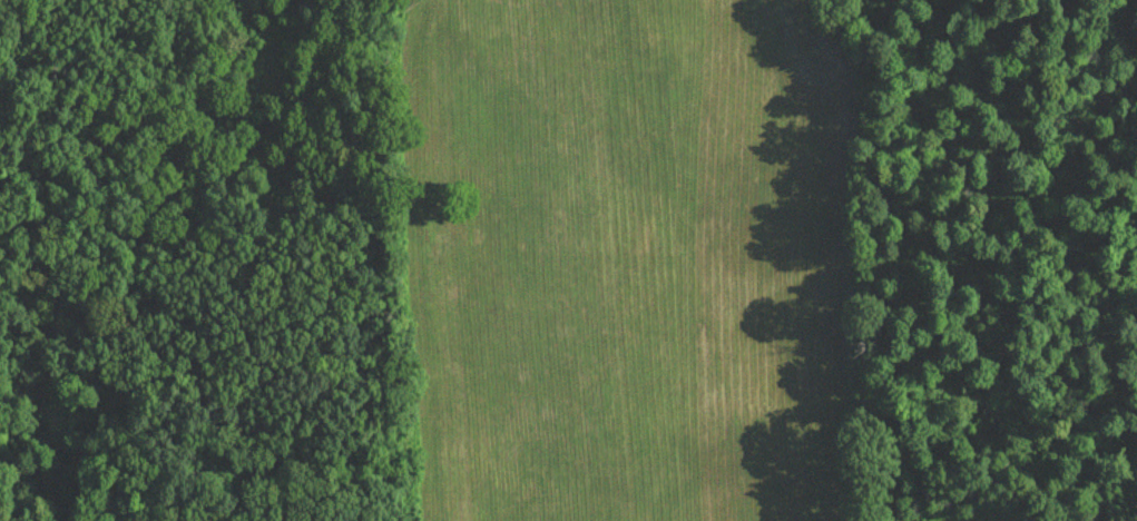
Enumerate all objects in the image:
road: (962, 255)

